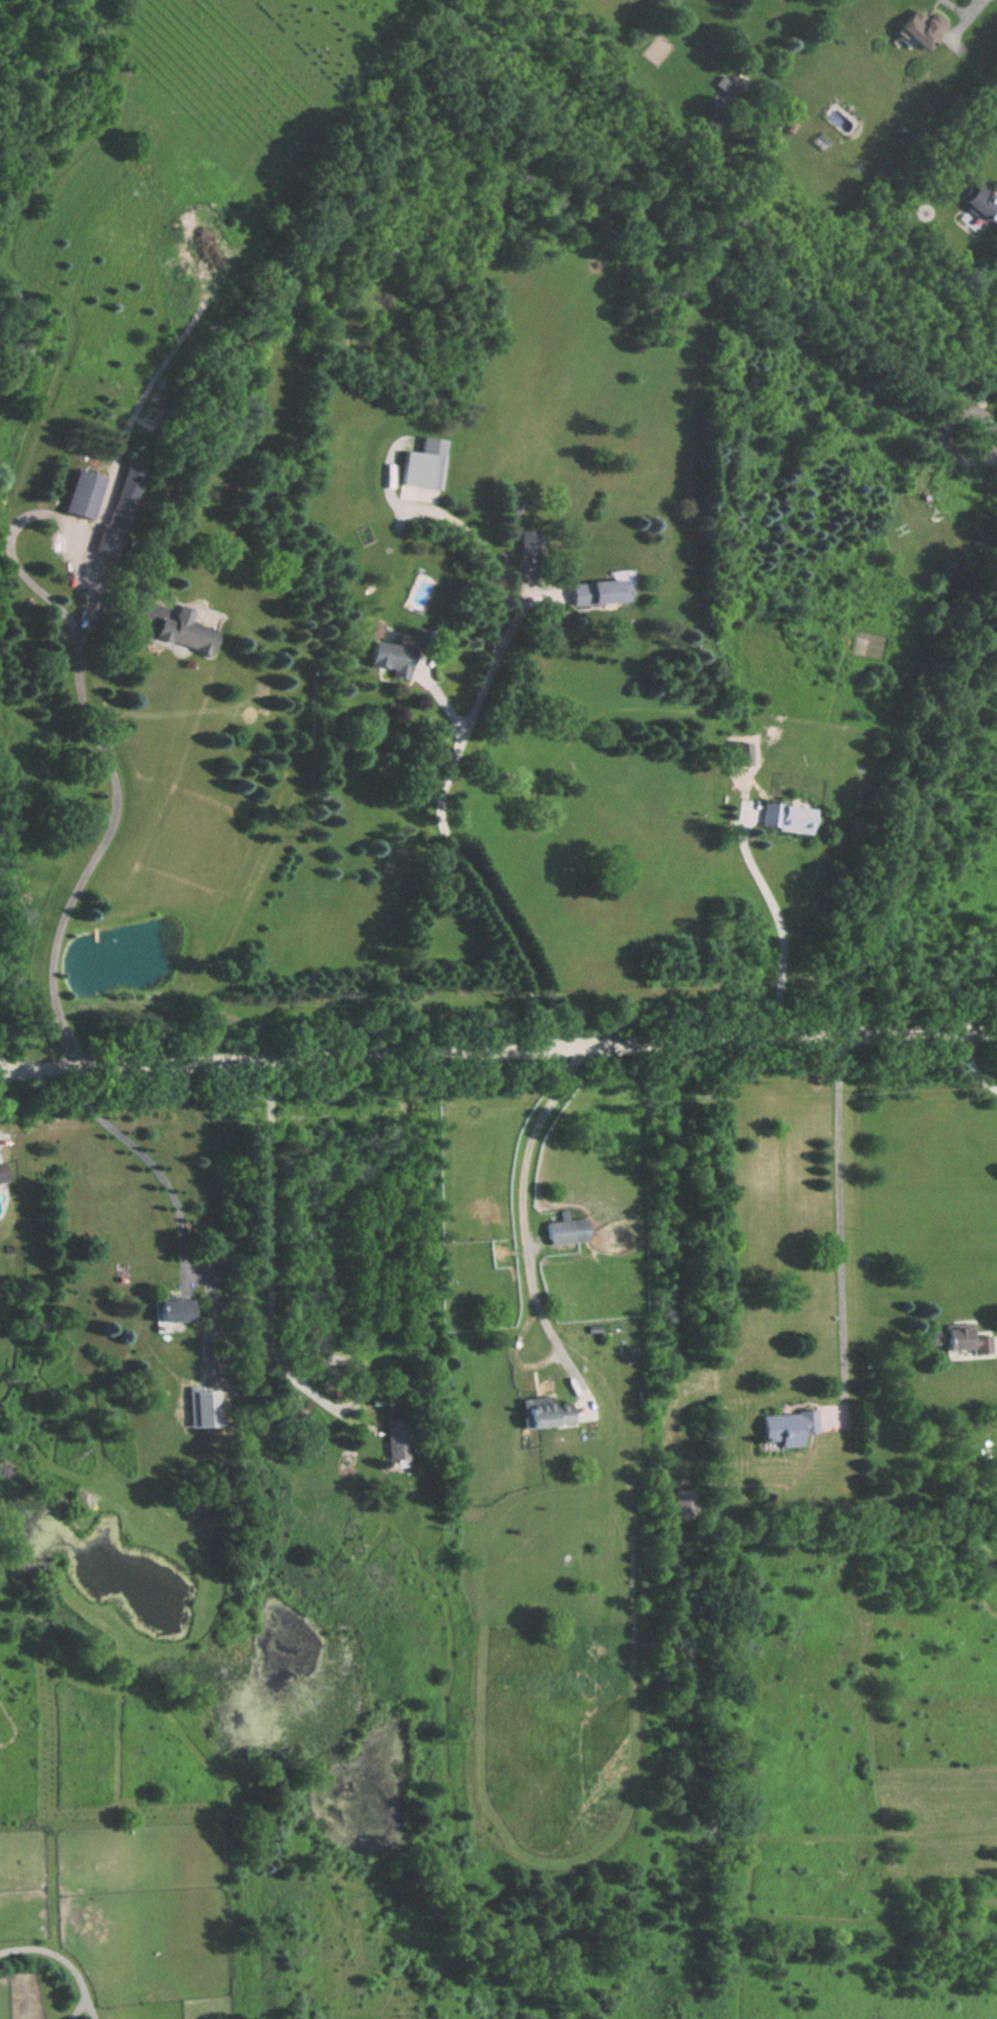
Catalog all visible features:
building: (733, 0)
road: (979, 8)
building: (921, 26)
building: (724, 85)
building: (983, 203)
road: (986, 436)
building: (429, 470)
building: (82, 493)
building: (120, 509)
road: (468, 532)
building: (529, 542)
building: (600, 591)
building: (419, 593)
building: (182, 637)
building: (391, 658)
road: (84, 707)
building: (786, 817)
road: (443, 821)
road: (780, 918)
road: (498, 1047)
road: (977, 1063)
road: (152, 1162)
building: (2, 1173)
road: (848, 1226)
road: (530, 1229)
building: (567, 1230)
road: (676, 1242)
road: (267, 1253)
building: (171, 1308)
building: (961, 1339)
building: (544, 1412)
building: (785, 1429)
building: (395, 1434)
building: (683, 1503)
road: (64, 1964)

